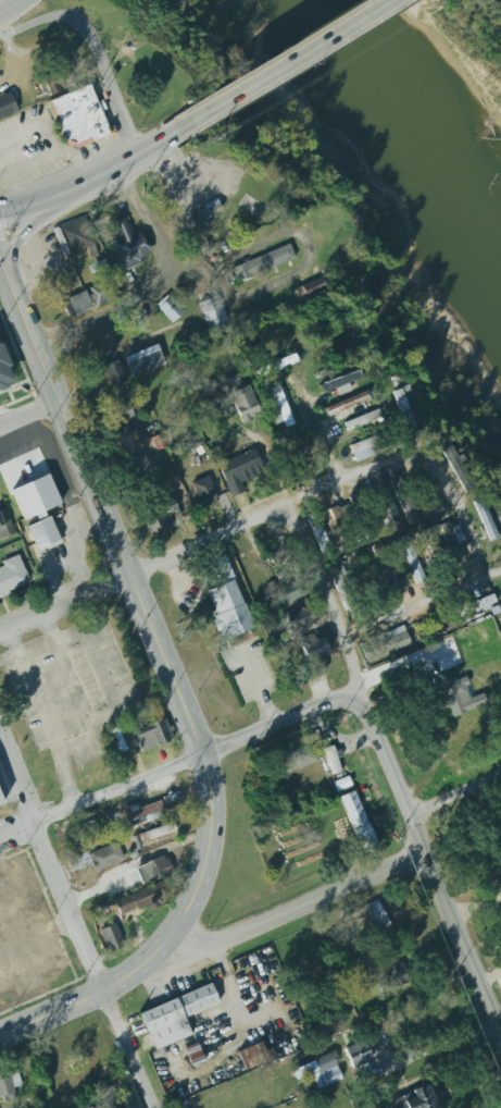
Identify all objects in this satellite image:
road: (2, 5)
road: (12, 7)
road: (25, 26)
road: (14, 62)
road: (281, 65)
road: (104, 74)
building: (54, 82)
building: (7, 103)
building: (78, 118)
road: (35, 123)
river: (396, 123)
parking lot: (28, 148)
road: (79, 159)
road: (28, 162)
road: (178, 172)
road: (91, 180)
building: (212, 205)
building: (73, 235)
road: (301, 236)
building: (128, 245)
building: (263, 262)
building: (97, 267)
road: (151, 286)
building: (311, 287)
building: (88, 297)
building: (168, 308)
building: (212, 312)
building: (253, 313)
building: (143, 359)
building: (286, 360)
building: (3, 366)
building: (115, 373)
building: (103, 379)
building: (340, 383)
building: (243, 401)
building: (347, 404)
building: (280, 405)
building: (404, 413)
building: (118, 416)
road: (28, 418)
building: (362, 420)
road: (320, 440)
building: (160, 441)
building: (366, 447)
road: (417, 453)
building: (137, 467)
building: (459, 468)
building: (239, 469)
building: (203, 490)
building: (403, 501)
building: (434, 502)
building: (384, 509)
building: (160, 515)
building: (485, 519)
building: (5, 525)
building: (316, 530)
building: (43, 534)
building: (452, 540)
building: (275, 552)
road: (142, 570)
building: (12, 576)
building: (336, 578)
building: (390, 578)
building: (288, 592)
building: (225, 599)
road: (421, 604)
road: (326, 605)
building: (476, 605)
road: (138, 610)
building: (290, 620)
building: (485, 632)
building: (500, 635)
building: (385, 644)
building: (313, 648)
road: (104, 668)
building: (315, 669)
road: (70, 674)
road: (256, 687)
building: (459, 690)
road: (45, 717)
road: (275, 723)
building: (152, 734)
building: (114, 741)
road: (76, 744)
building: (301, 756)
building: (333, 760)
road: (453, 797)
road: (99, 799)
building: (0, 807)
building: (142, 814)
building: (358, 822)
building: (85, 829)
building: (156, 833)
building: (153, 870)
road: (428, 871)
building: (13, 887)
building: (140, 898)
road: (290, 910)
building: (376, 916)
road: (74, 927)
building: (111, 937)
building: (50, 958)
building: (393, 972)
road: (489, 976)
road: (82, 999)
road: (238, 1017)
building: (175, 1018)
road: (442, 1048)
building: (355, 1052)
building: (251, 1056)
building: (318, 1071)
building: (9, 1084)
building: (414, 1098)
building: (128, 1100)
building: (103, 1104)

